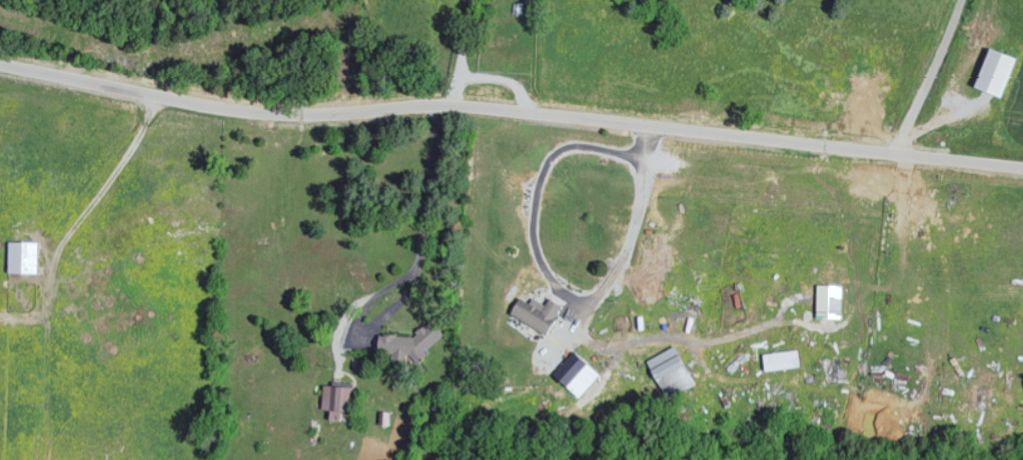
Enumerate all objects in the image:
road: (460, 53)
building: (992, 72)
road: (929, 78)
road: (501, 81)
road: (510, 112)
road: (423, 228)
building: (20, 256)
road: (555, 285)
road: (881, 307)
building: (533, 312)
building: (404, 344)
building: (668, 370)
building: (576, 376)
building: (332, 400)

